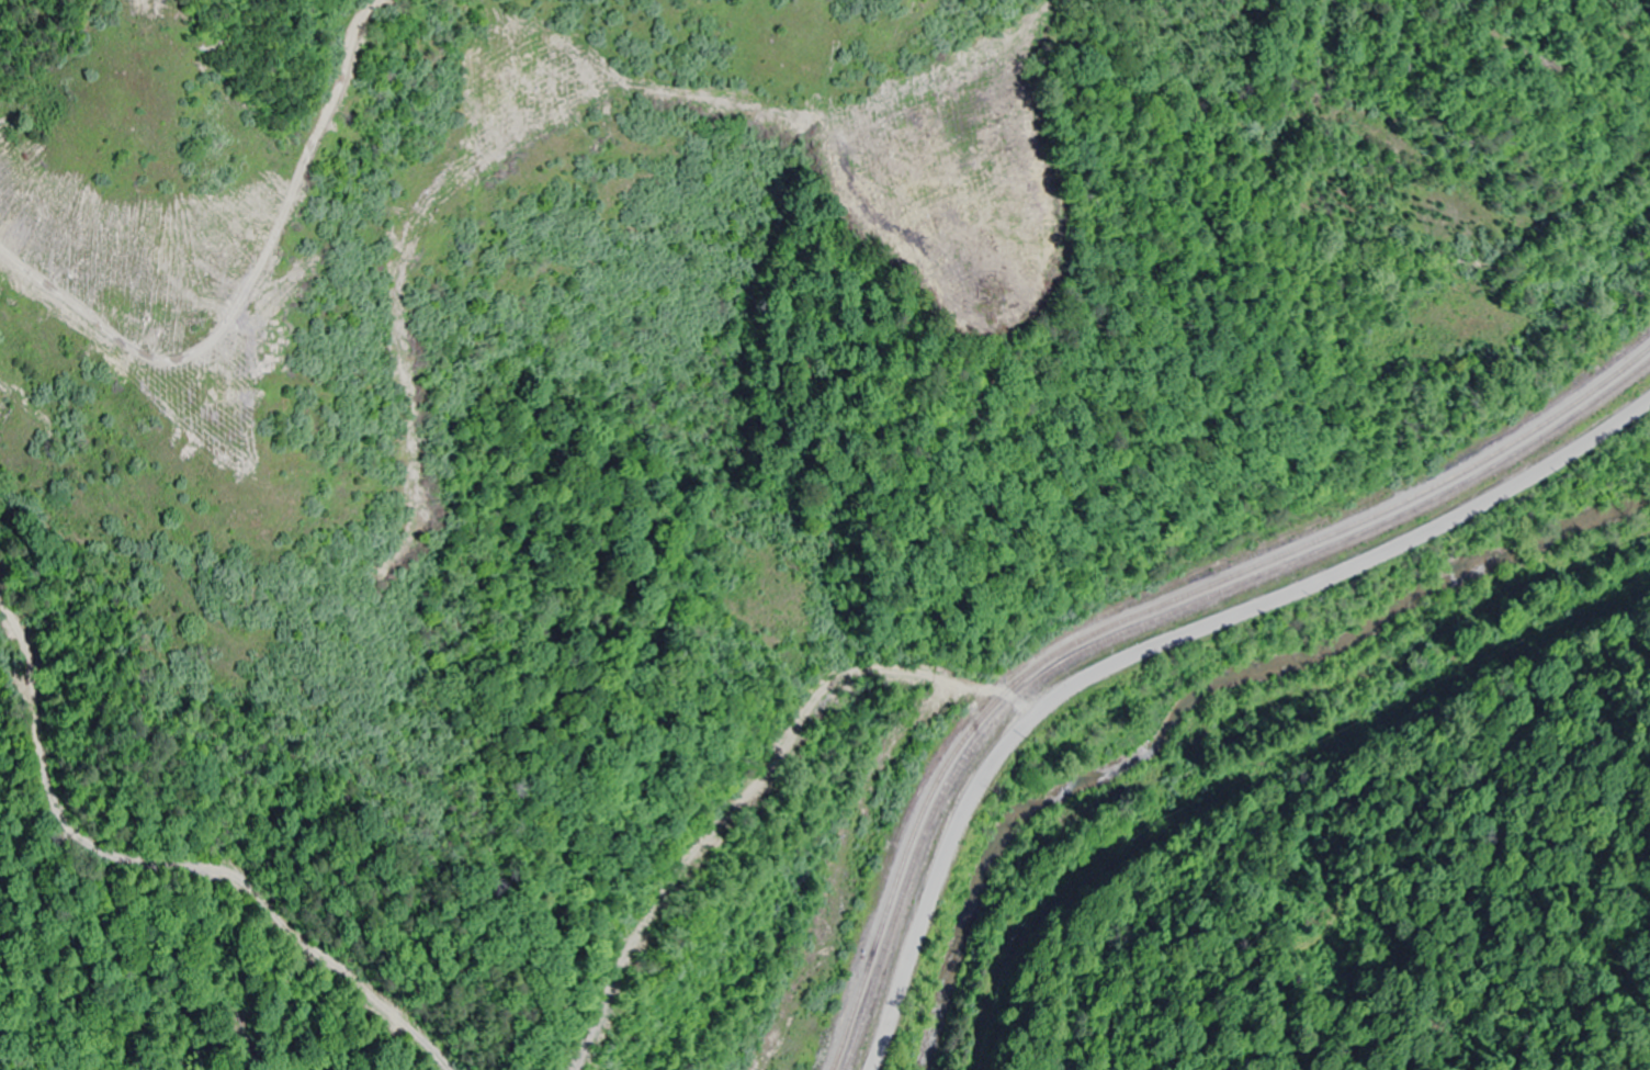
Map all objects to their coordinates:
railway: (1140, 613)
road: (1166, 645)

